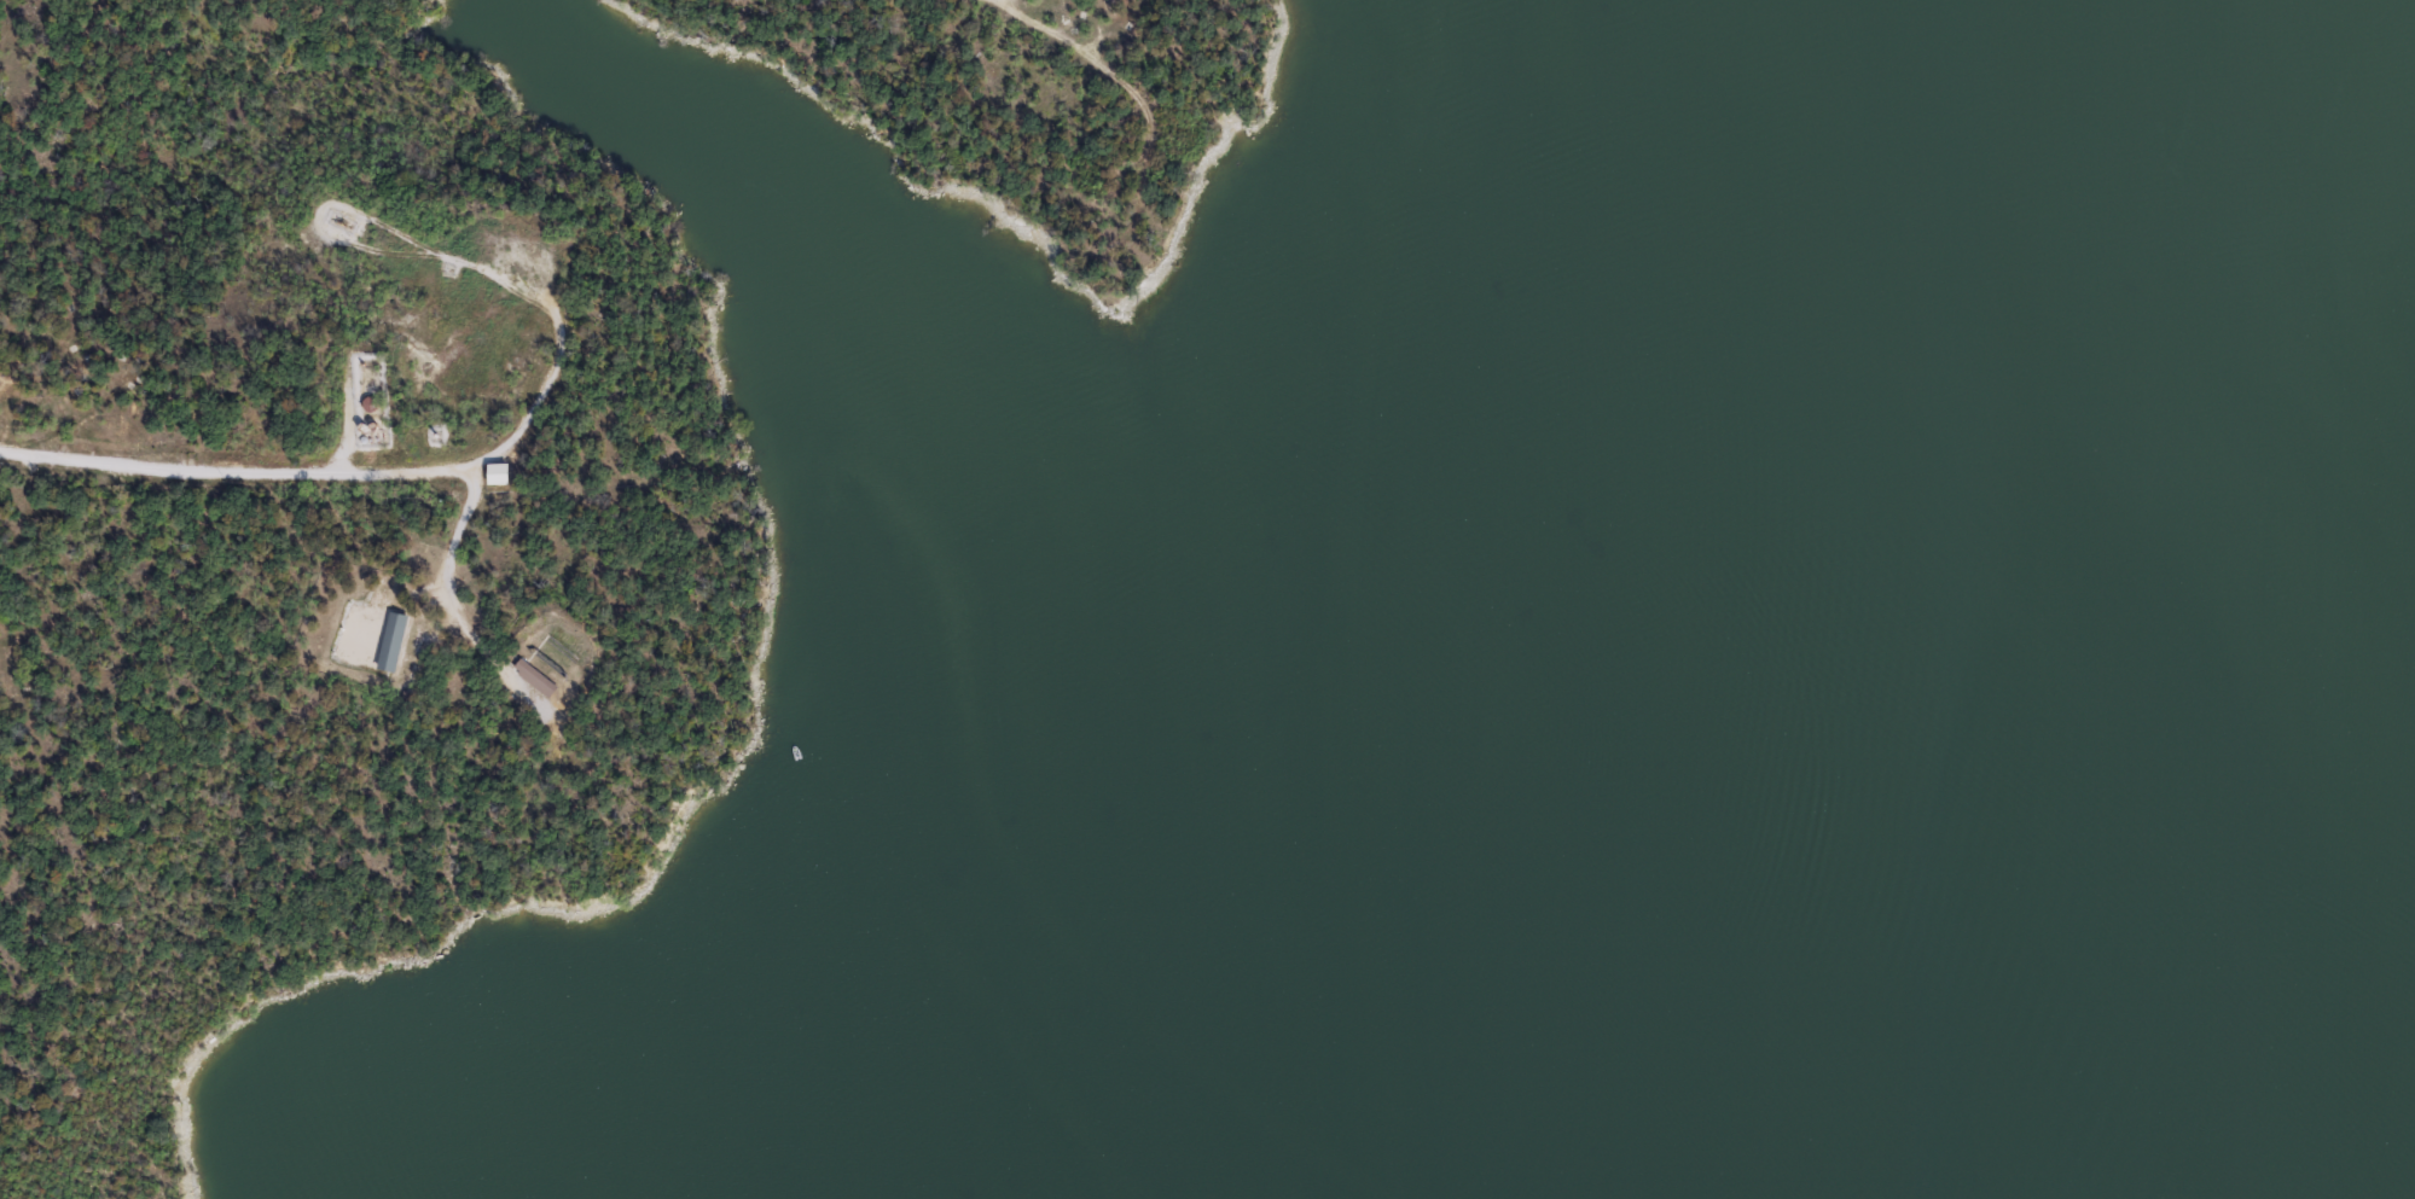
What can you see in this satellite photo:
road: (991, 2)
road: (1080, 53)
building: (497, 473)
road: (397, 476)
park: (643, 535)
road: (452, 607)
building: (391, 641)
building: (534, 677)
building: (405, 693)

